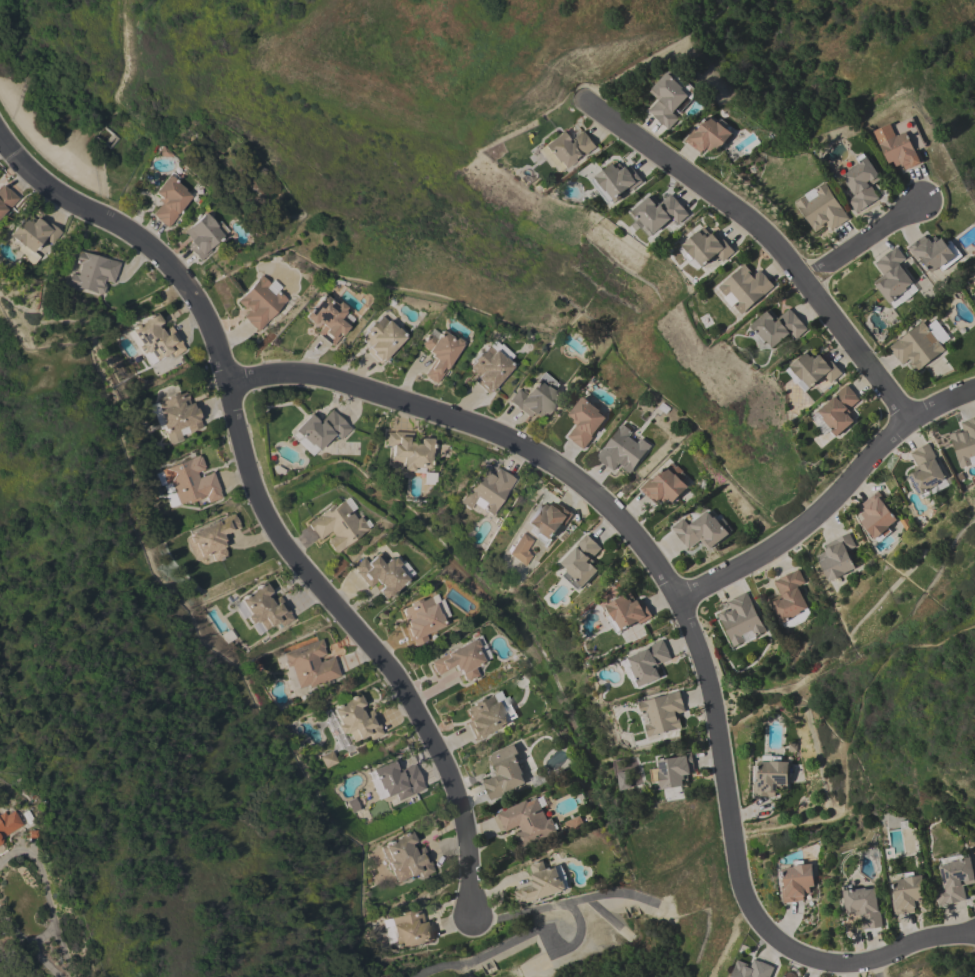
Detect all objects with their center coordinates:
park: (410, 71)
building: (669, 97)
building: (709, 135)
building: (900, 143)
building: (568, 147)
building: (615, 180)
building: (861, 183)
building: (6, 199)
building: (169, 199)
building: (821, 209)
building: (659, 211)
building: (32, 235)
building: (202, 235)
road: (769, 238)
road: (863, 242)
building: (706, 246)
building: (934, 252)
building: (92, 272)
building: (891, 275)
building: (744, 288)
building: (259, 302)
building: (328, 319)
building: (776, 326)
building: (156, 338)
building: (381, 338)
building: (916, 347)
building: (439, 353)
building: (489, 368)
building: (814, 368)
building: (536, 397)
building: (838, 410)
building: (178, 415)
building: (584, 421)
building: (320, 429)
building: (301, 443)
building: (965, 443)
building: (409, 449)
building: (622, 450)
building: (924, 470)
road: (306, 475)
building: (191, 481)
building: (663, 487)
building: (486, 489)
road: (840, 497)
road: (262, 503)
building: (876, 515)
building: (548, 518)
building: (336, 525)
building: (700, 530)
building: (211, 538)
building: (519, 549)
building: (836, 557)
building: (581, 561)
building: (380, 573)
building: (789, 600)
building: (262, 609)
building: (626, 612)
road: (695, 613)
building: (740, 618)
building: (420, 620)
building: (459, 660)
building: (647, 663)
building: (310, 664)
building: (662, 713)
building: (484, 716)
building: (356, 719)
road: (845, 743)
building: (329, 759)
building: (674, 770)
building: (503, 772)
building: (770, 776)
building: (396, 779)
building: (623, 780)
building: (353, 805)
building: (526, 822)
building: (8, 823)
building: (572, 824)
building: (405, 857)
building: (953, 878)
building: (797, 881)
building: (540, 883)
road: (45, 890)
building: (907, 893)
building: (863, 906)
building: (410, 929)
road: (16, 938)
road: (45, 966)
building: (751, 969)

